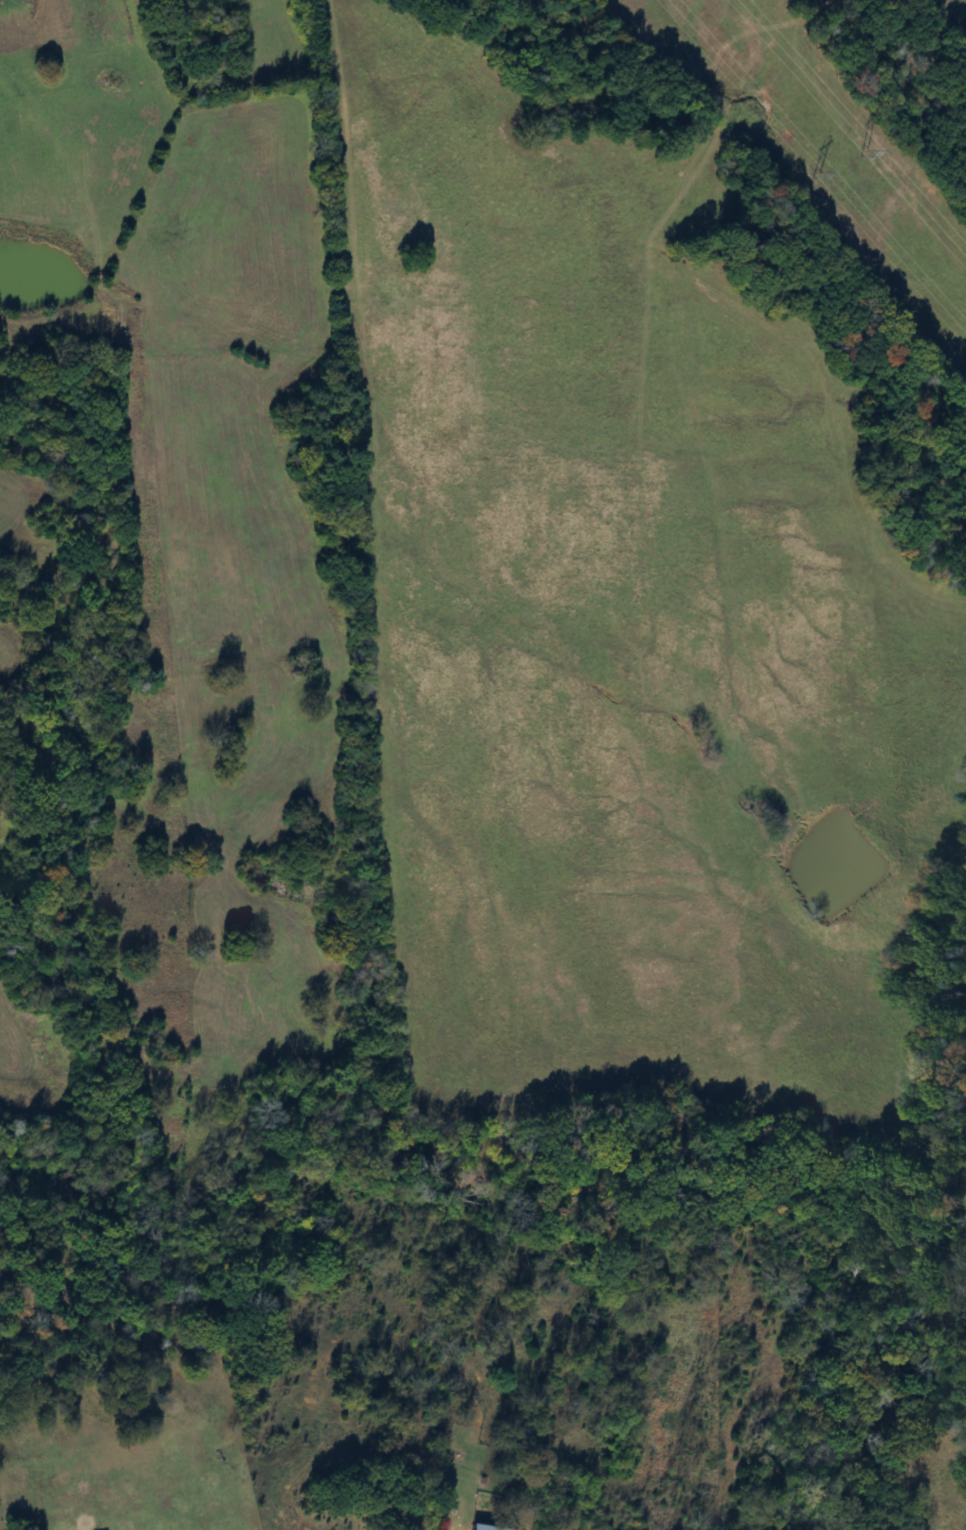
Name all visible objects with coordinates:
power tower: (852, 149)
power tower: (803, 175)
park: (0, 1519)
building: (478, 1527)

